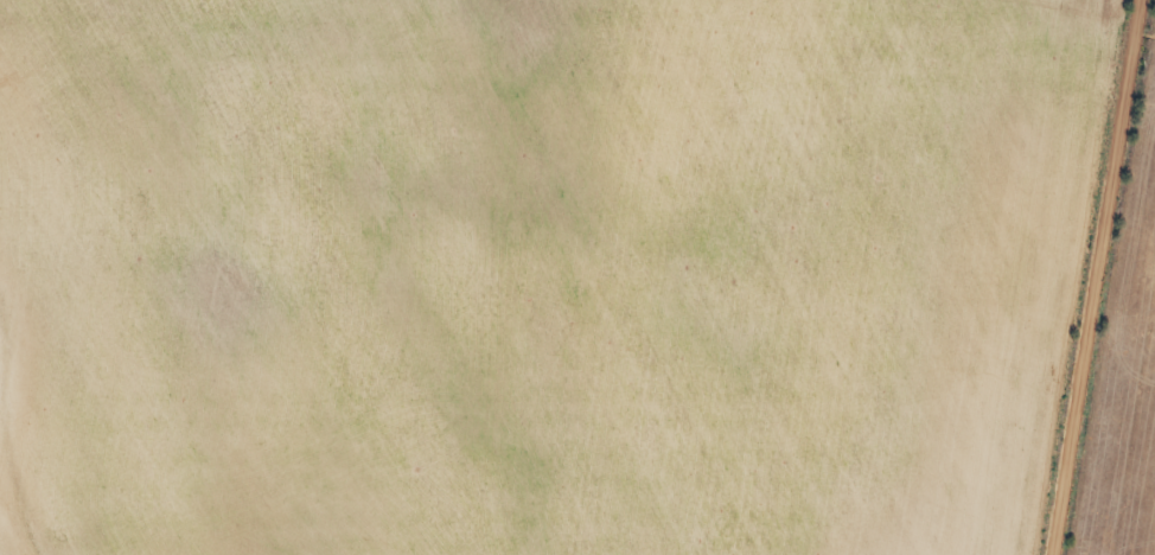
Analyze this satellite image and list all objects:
road: (1085, 277)

